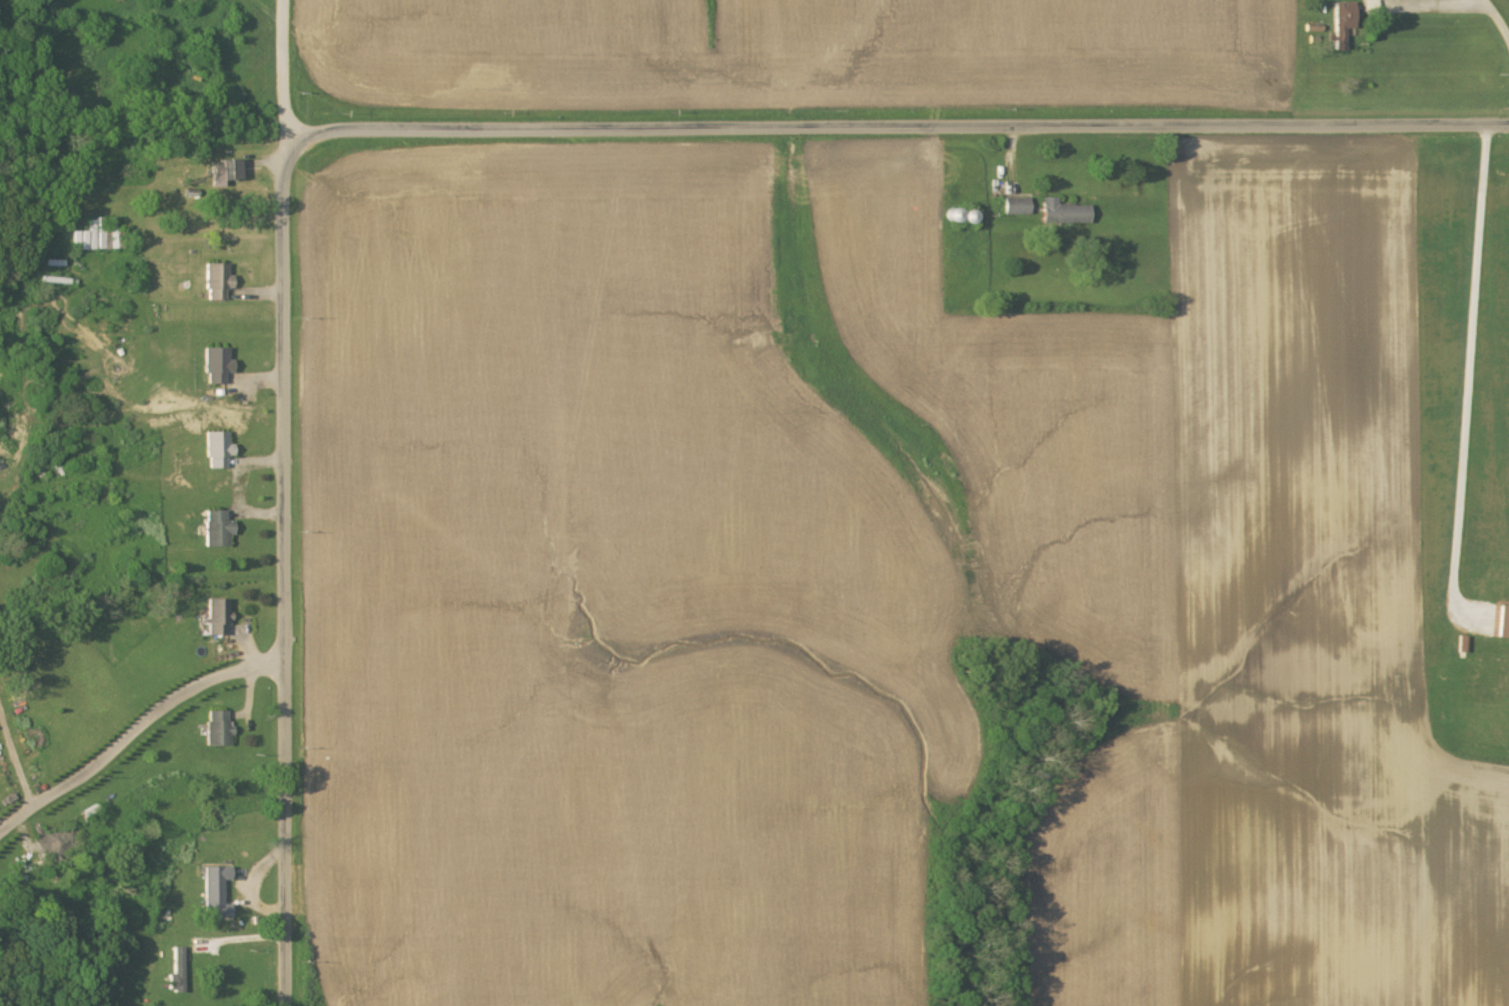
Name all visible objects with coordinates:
road: (1496, 20)
building: (1343, 24)
road: (896, 126)
building: (224, 174)
building: (1016, 207)
building: (1063, 214)
building: (953, 216)
building: (97, 237)
building: (217, 283)
building: (217, 366)
road: (1470, 367)
building: (217, 451)
road: (285, 502)
building: (217, 530)
building: (218, 618)
building: (1503, 623)
road: (135, 729)
building: (218, 730)
building: (215, 893)
building: (177, 973)

